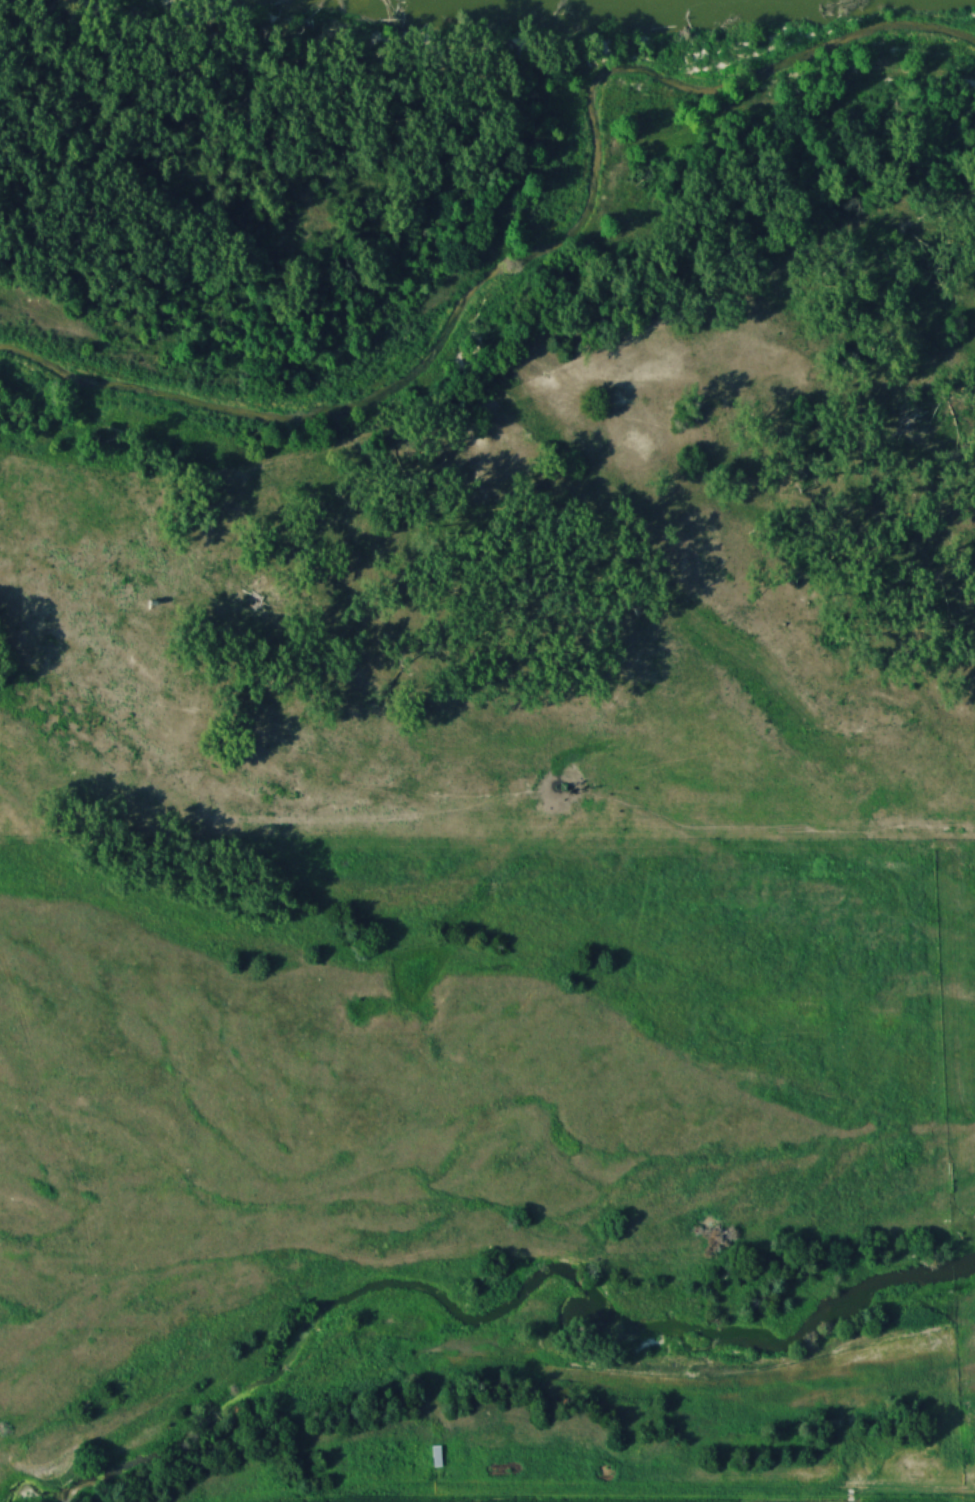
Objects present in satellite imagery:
river: (521, 258)

